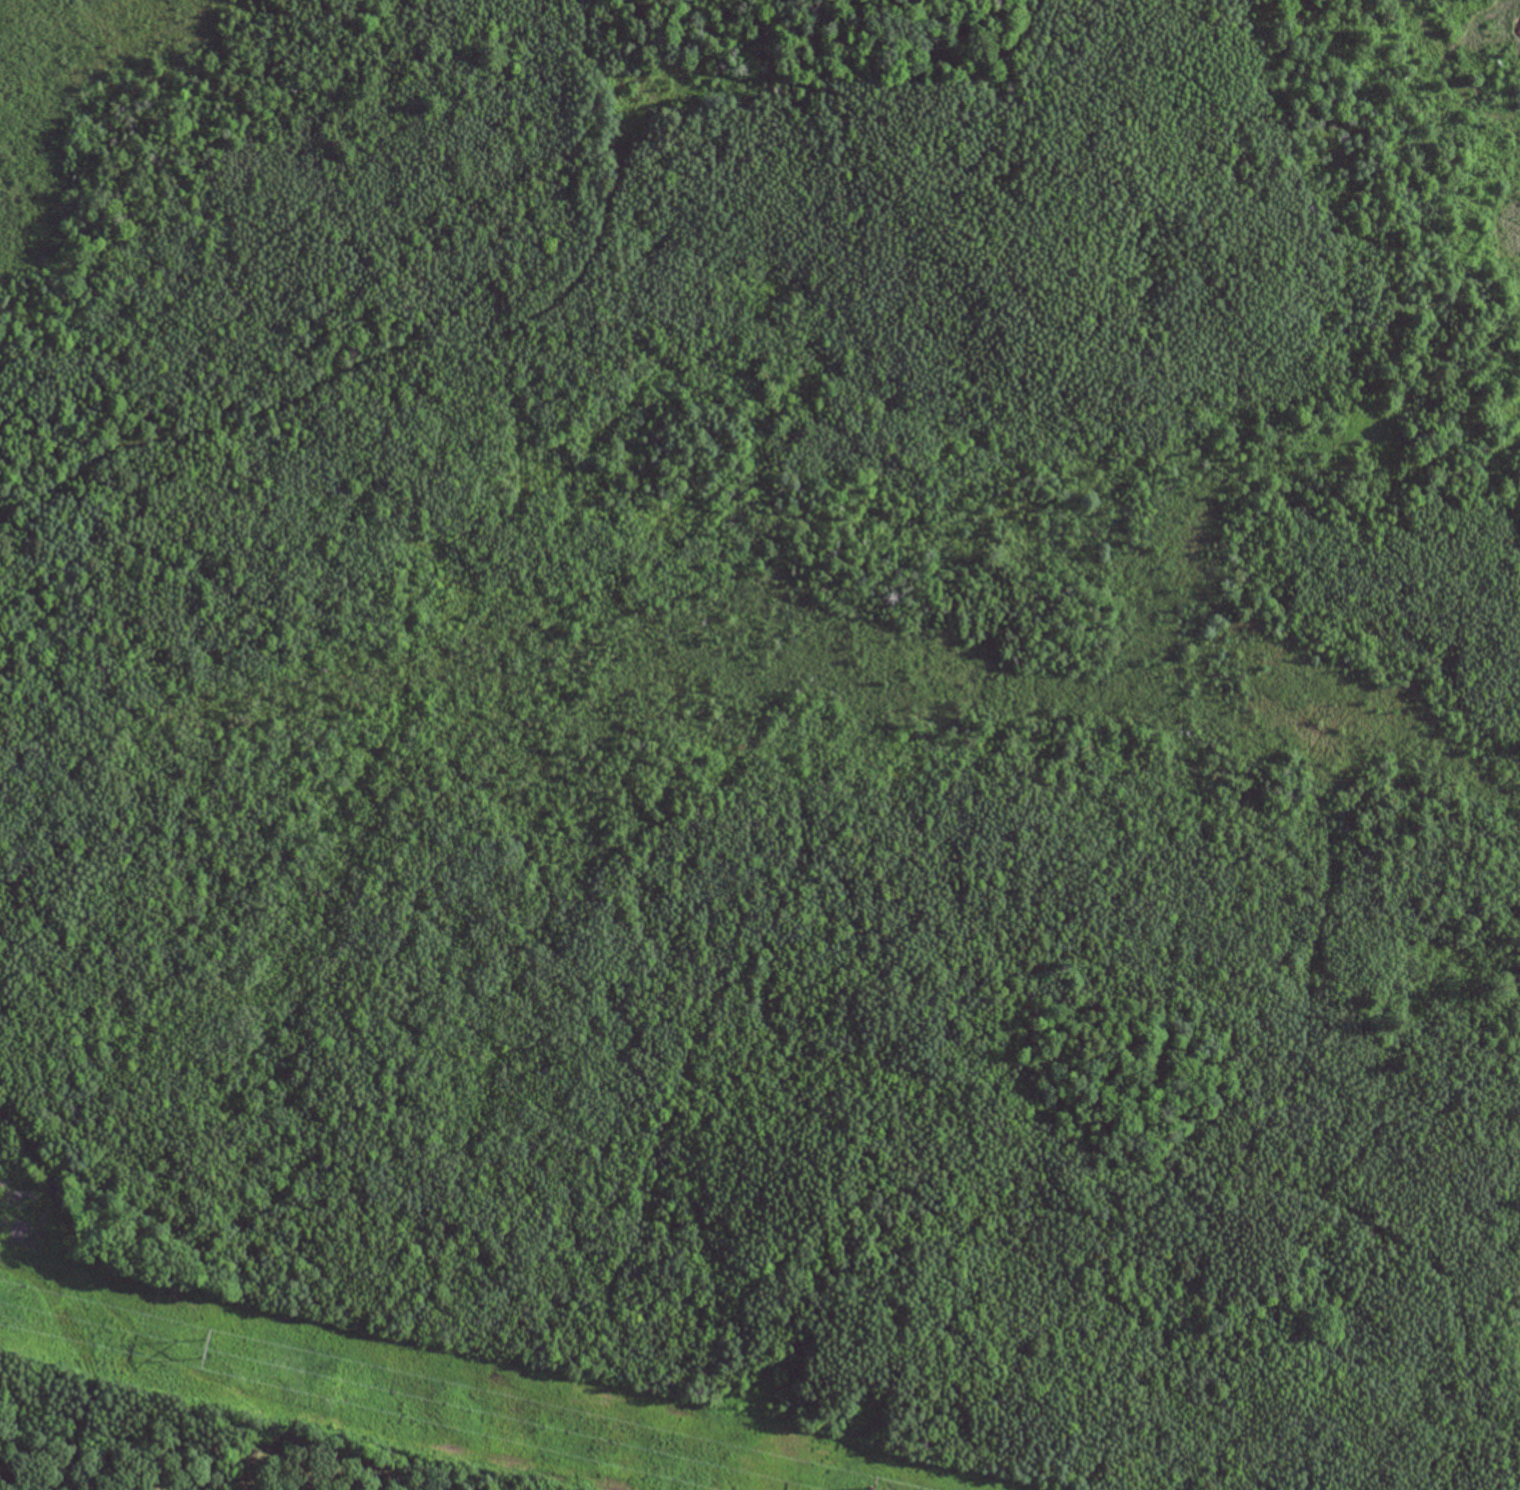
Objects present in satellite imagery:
power tower: (206, 1351)

